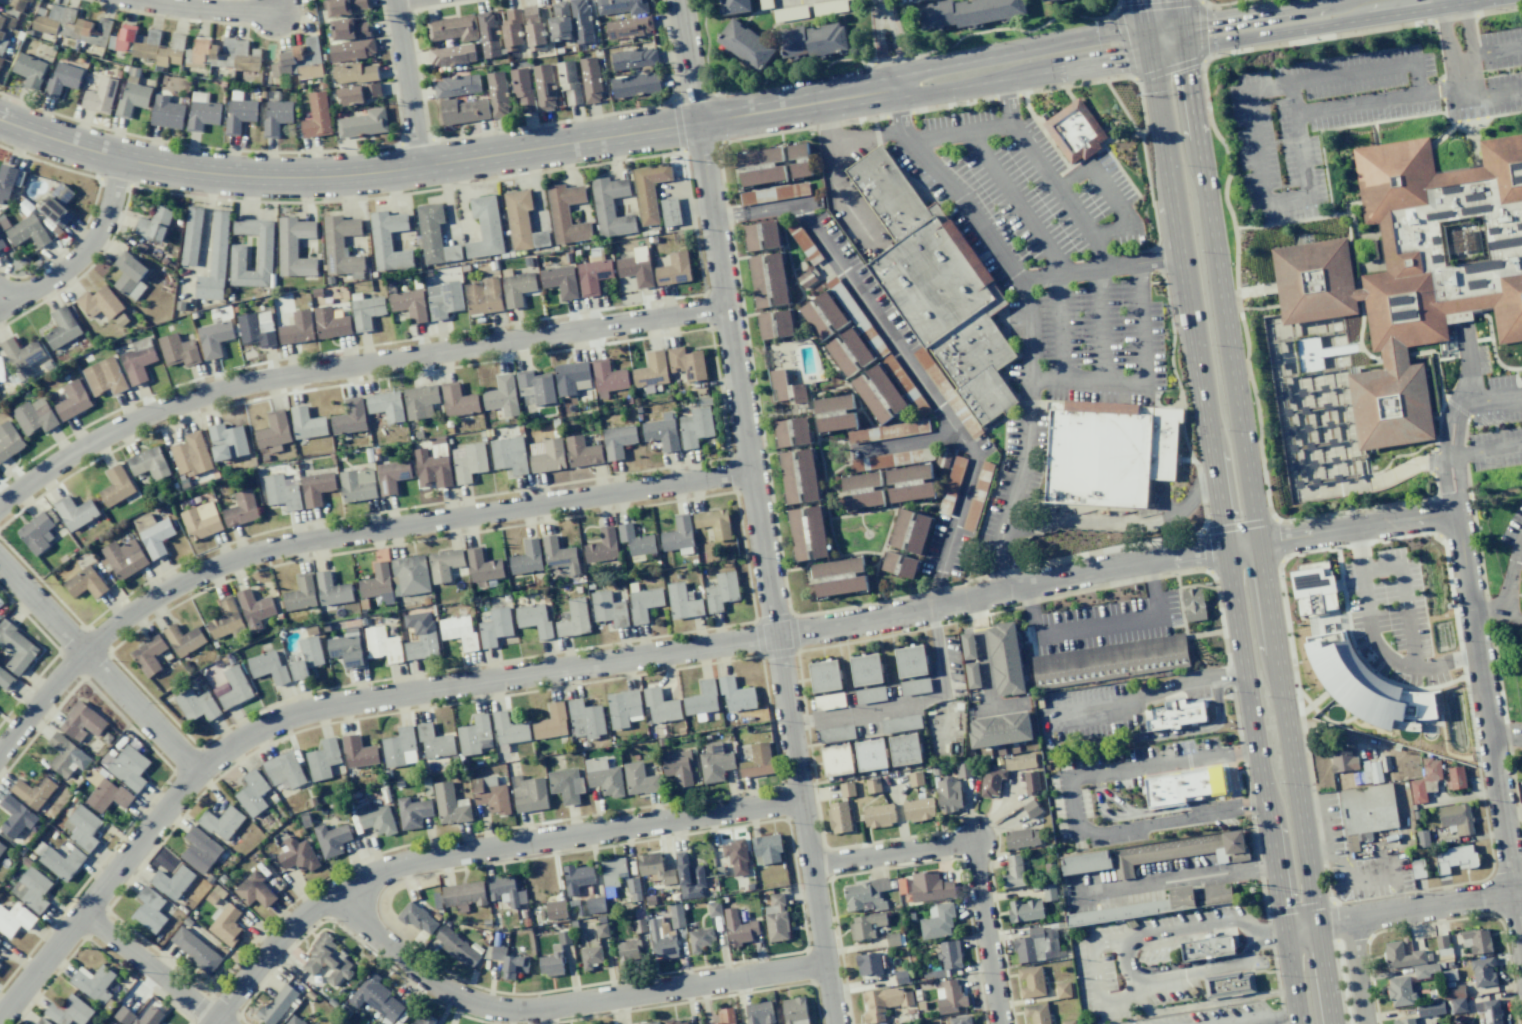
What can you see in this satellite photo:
building: (1043, 0)
road: (1222, 3)
building: (15, 4)
building: (765, 4)
building: (344, 6)
building: (622, 6)
building: (734, 6)
building: (828, 7)
road: (207, 8)
road: (880, 8)
building: (967, 12)
building: (790, 13)
building: (47, 19)
road: (1180, 19)
building: (581, 21)
road: (1279, 21)
building: (9, 22)
building: (559, 22)
road: (1143, 22)
building: (70, 24)
building: (628, 27)
building: (452, 28)
building: (533, 28)
road: (1011, 28)
building: (348, 29)
building: (512, 29)
road: (1467, 31)
building: (95, 32)
road: (1442, 33)
building: (488, 35)
building: (123, 38)
traffic signals: (1183, 38)
building: (812, 39)
building: (3, 40)
building: (146, 44)
building: (745, 44)
traffic signals: (1147, 44)
building: (350, 50)
road: (896, 50)
road: (1490, 50)
building: (170, 51)
building: (197, 52)
building: (222, 53)
road: (881, 53)
building: (452, 54)
building: (245, 57)
building: (307, 58)
building: (633, 58)
building: (1, 59)
building: (284, 64)
building: (30, 70)
building: (353, 73)
parking lot: (1494, 77)
building: (62, 79)
building: (590, 79)
road: (1463, 79)
building: (568, 82)
road: (407, 83)
building: (457, 85)
building: (635, 85)
building: (543, 86)
building: (522, 90)
building: (359, 93)
building: (497, 93)
road: (1494, 94)
building: (100, 95)
building: (132, 95)
road: (1379, 101)
building: (463, 110)
building: (201, 111)
building: (166, 112)
building: (239, 115)
building: (317, 116)
building: (276, 117)
road: (900, 117)
parking lot: (1316, 118)
building: (362, 123)
road: (1249, 125)
building: (1073, 132)
road: (959, 134)
road: (572, 142)
road: (845, 142)
building: (799, 159)
building: (761, 166)
building: (9, 181)
building: (649, 190)
building: (773, 193)
road: (840, 195)
road: (1110, 195)
building: (57, 205)
building: (610, 207)
building: (669, 211)
road: (755, 211)
building: (566, 214)
road: (1077, 218)
building: (522, 222)
building: (153, 224)
building: (485, 227)
building: (27, 232)
building: (761, 235)
building: (191, 236)
building: (434, 236)
building: (802, 240)
building: (388, 241)
building: (1, 245)
road: (1046, 245)
building: (340, 246)
building: (294, 247)
road: (86, 252)
building: (237, 257)
building: (214, 260)
road: (1098, 268)
building: (674, 269)
building: (635, 270)
building: (1411, 273)
building: (129, 275)
building: (592, 276)
building: (805, 278)
building: (767, 279)
building: (560, 281)
building: (935, 285)
building: (517, 288)
building: (482, 295)
building: (443, 299)
building: (99, 303)
building: (409, 304)
building: (366, 311)
building: (823, 315)
building: (855, 316)
building: (330, 323)
building: (775, 324)
building: (62, 328)
building: (296, 328)
building: (256, 329)
road: (1282, 332)
building: (213, 338)
road: (1029, 347)
building: (178, 350)
building: (848, 352)
building: (22, 356)
building: (687, 363)
building: (137, 364)
road: (349, 367)
road: (1468, 369)
building: (651, 370)
road: (1140, 376)
building: (104, 377)
building: (608, 377)
building: (571, 378)
building: (904, 385)
building: (535, 388)
building: (786, 388)
building: (878, 393)
road: (928, 393)
building: (946, 393)
building: (502, 396)
building: (72, 400)
building: (457, 400)
building: (420, 401)
road: (1489, 403)
building: (386, 406)
building: (834, 413)
building: (34, 416)
building: (349, 417)
parking lot: (1493, 419)
building: (306, 423)
building: (695, 426)
building: (791, 431)
building: (887, 431)
building: (273, 432)
building: (661, 432)
building: (9, 441)
building: (617, 441)
building: (227, 442)
road: (902, 444)
building: (1107, 451)
road: (1486, 451)
building: (582, 452)
building: (190, 455)
building: (508, 455)
building: (546, 455)
building: (890, 459)
building: (942, 459)
building: (468, 461)
road: (1450, 461)
building: (148, 463)
building: (432, 469)
road: (1396, 472)
building: (391, 476)
building: (798, 476)
building: (909, 483)
building: (357, 485)
building: (951, 485)
building: (116, 486)
building: (316, 488)
building: (862, 490)
building: (281, 492)
building: (977, 496)
building: (241, 509)
building: (74, 512)
road: (758, 512)
road: (1114, 520)
building: (200, 521)
building: (713, 523)
building: (909, 531)
road: (1258, 531)
building: (807, 532)
road: (1340, 532)
building: (36, 533)
road: (1222, 534)
building: (678, 536)
building: (156, 538)
road: (338, 539)
building: (635, 540)
building: (601, 547)
building: (559, 555)
building: (124, 558)
building: (527, 558)
building: (444, 564)
building: (899, 564)
building: (483, 566)
road: (1510, 571)
building: (409, 575)
building: (839, 576)
building: (85, 583)
building: (377, 583)
building: (1312, 588)
building: (332, 590)
building: (721, 591)
building: (300, 594)
road: (1403, 596)
building: (682, 602)
building: (643, 603)
building: (1193, 605)
building: (254, 609)
building: (608, 609)
road: (1497, 612)
parking lot: (1389, 617)
building: (226, 619)
building: (534, 619)
building: (574, 619)
building: (495, 627)
road: (1098, 627)
building: (458, 632)
road: (778, 634)
building: (420, 636)
building: (184, 639)
road: (1374, 643)
building: (382, 644)
building: (967, 646)
building: (16, 648)
building: (311, 650)
building: (346, 651)
road: (983, 652)
building: (148, 655)
building: (1005, 658)
building: (911, 661)
building: (1110, 661)
building: (268, 667)
road: (99, 668)
building: (867, 670)
building: (972, 675)
building: (825, 676)
building: (6, 679)
building: (234, 687)
building: (1365, 687)
building: (736, 694)
road: (912, 702)
building: (197, 705)
building: (661, 706)
road: (1000, 706)
building: (623, 708)
building: (1173, 715)
building: (585, 719)
road: (1488, 720)
building: (82, 722)
building: (551, 722)
building: (1000, 729)
building: (508, 732)
building: (474, 736)
road: (1507, 740)
building: (434, 742)
building: (904, 747)
building: (399, 748)
building: (358, 752)
building: (870, 753)
building: (67, 756)
building: (836, 757)
building: (322, 759)
building: (1342, 760)
building: (757, 761)
building: (1020, 761)
building: (714, 762)
building: (129, 767)
building: (677, 767)
building: (963, 769)
building: (1431, 769)
building: (284, 770)
building: (1371, 772)
building: (915, 777)
building: (1455, 777)
building: (638, 779)
building: (991, 780)
building: (1031, 782)
building: (566, 785)
building: (873, 785)
building: (1182, 785)
building: (846, 788)
building: (34, 791)
building: (1417, 791)
building: (106, 793)
building: (252, 793)
building: (948, 794)
building: (530, 795)
building: (491, 797)
building: (450, 804)
building: (1032, 808)
building: (918, 809)
building: (412, 812)
building: (1366, 812)
building: (879, 815)
building: (839, 816)
building: (16, 817)
building: (375, 818)
building: (1456, 818)
building: (222, 822)
building: (82, 827)
building: (1022, 837)
road: (146, 839)
building: (331, 839)
building: (1, 848)
building: (766, 849)
building: (200, 850)
road: (477, 851)
road: (975, 853)
building: (1155, 854)
building: (297, 855)
building: (736, 856)
building: (1455, 858)
road: (1319, 861)
building: (61, 862)
road: (1343, 865)
building: (654, 868)
building: (1417, 868)
building: (611, 870)
building: (1012, 872)
building: (689, 877)
building: (577, 878)
building: (172, 882)
building: (929, 886)
building: (32, 889)
building: (633, 889)
building: (255, 891)
building: (506, 891)
building: (1048, 892)
building: (463, 895)
building: (864, 895)
building: (595, 905)
building: (1155, 905)
building: (555, 909)
building: (149, 910)
building: (1024, 910)
road: (1403, 911)
building: (676, 916)
building: (776, 918)
building: (14, 919)
building: (418, 919)
building: (937, 921)
building: (226, 925)
building: (639, 925)
building: (866, 925)
building: (738, 928)
building: (601, 930)
building: (700, 939)
building: (1476, 940)
building: (661, 941)
building: (1035, 944)
building: (1441, 945)
building: (457, 947)
building: (1205, 947)
building: (195, 949)
building: (628, 951)
building: (949, 954)
building: (590, 956)
building: (327, 960)
building: (1408, 960)
building: (509, 962)
building: (550, 964)
building: (868, 964)
road: (154, 969)
road: (1357, 971)
building: (1483, 972)
building: (1031, 981)
building: (93, 983)
building: (1226, 984)
building: (1062, 989)
building: (1399, 991)
building: (949, 997)
building: (1455, 997)
building: (376, 998)
building: (883, 1002)
building: (278, 1004)
road: (565, 1007)
building: (1430, 1009)
building: (794, 1010)
building: (68, 1011)
building: (1491, 1011)
building: (759, 1013)
building: (1036, 1013)
building: (124, 1015)
building: (725, 1016)
building: (294, 1020)
building: (422, 1020)
building: (958, 1020)
building: (40, 1021)
building: (1404, 1021)
building: (676, 1022)
building: (1068, 1022)
building: (313, 1023)
building: (649, 1023)

